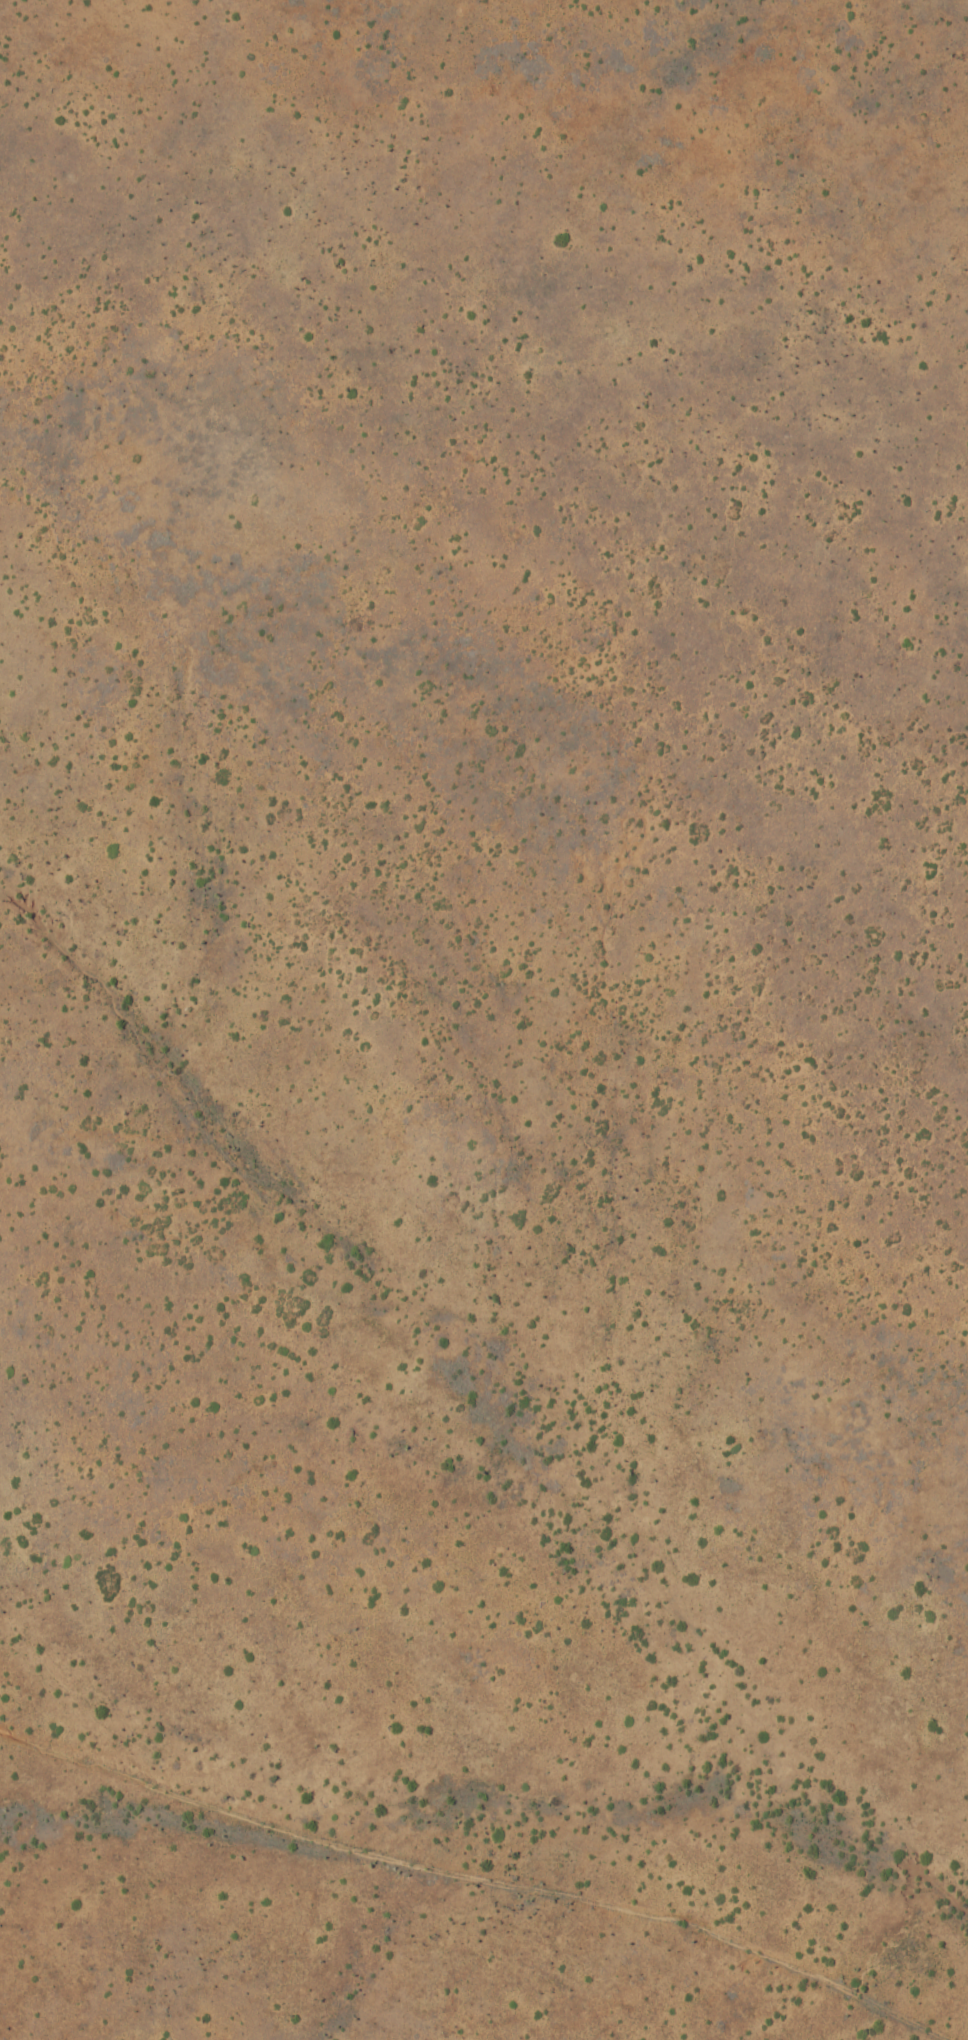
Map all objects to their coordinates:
road: (214, 1787)

